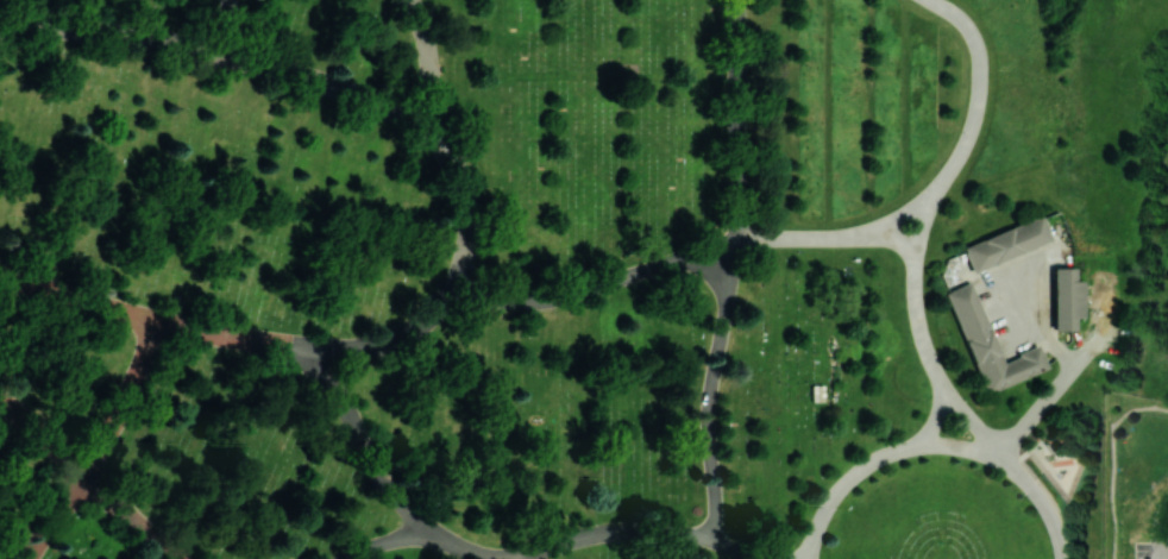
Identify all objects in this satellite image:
road: (228, 27)
road: (112, 32)
road: (428, 65)
road: (979, 92)
road: (409, 118)
road: (739, 119)
road: (898, 219)
road: (922, 225)
road: (891, 237)
road: (800, 239)
building: (1011, 246)
road: (710, 249)
road: (733, 266)
road: (708, 270)
park: (553, 279)
road: (76, 299)
road: (569, 299)
building: (1070, 299)
road: (1040, 319)
road: (918, 324)
road: (1100, 325)
road: (230, 335)
road: (389, 340)
building: (993, 347)
road: (127, 400)
building: (14, 408)
road: (1041, 409)
road: (708, 416)
road: (936, 417)
road: (972, 420)
road: (44, 435)
road: (363, 444)
road: (962, 445)
building: (1061, 472)
road: (844, 483)
road: (1043, 501)
road: (58, 516)
road: (130, 517)
road: (1161, 532)
road: (387, 542)
road: (569, 542)
road: (733, 548)

